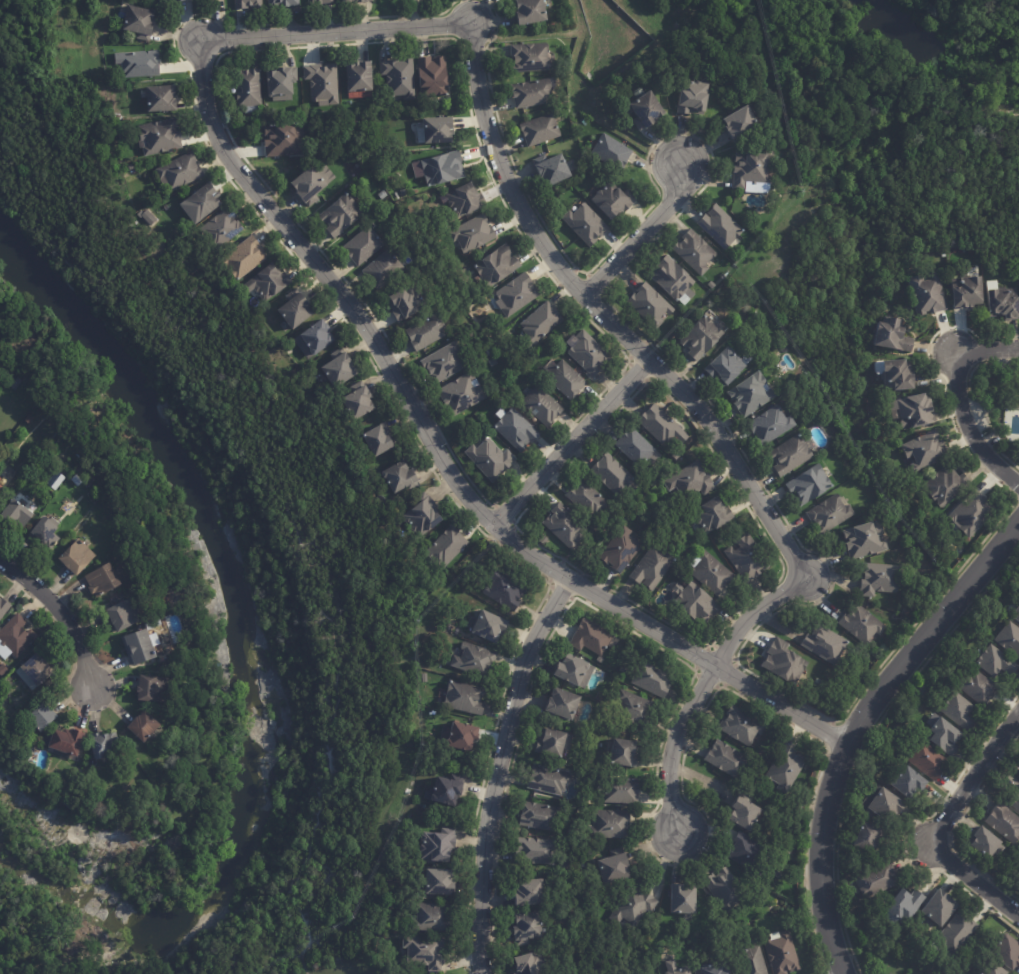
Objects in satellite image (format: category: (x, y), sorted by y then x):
building: (348, 0)
building: (362, 0)
building: (167, 1)
building: (320, 1)
building: (283, 3)
building: (247, 4)
building: (529, 10)
road: (576, 14)
road: (982, 15)
road: (644, 20)
building: (139, 21)
park: (977, 25)
road: (526, 32)
road: (333, 37)
building: (531, 57)
road: (637, 61)
building: (138, 63)
building: (399, 77)
building: (432, 77)
building: (359, 79)
building: (323, 82)
building: (281, 84)
building: (248, 87)
building: (532, 94)
building: (161, 98)
building: (693, 98)
road: (856, 107)
building: (645, 111)
road: (602, 117)
building: (740, 124)
building: (437, 130)
building: (540, 130)
building: (121, 136)
building: (159, 137)
building: (283, 140)
building: (610, 152)
building: (443, 169)
building: (754, 170)
building: (554, 171)
building: (179, 172)
building: (323, 176)
building: (309, 185)
building: (403, 193)
building: (383, 195)
building: (465, 200)
building: (203, 201)
building: (612, 201)
building: (341, 215)
building: (148, 217)
building: (586, 224)
building: (720, 227)
building: (221, 229)
building: (473, 234)
road: (640, 238)
building: (362, 246)
building: (694, 252)
building: (244, 258)
building: (735, 259)
building: (497, 266)
building: (382, 269)
building: (673, 279)
building: (268, 282)
building: (966, 292)
building: (517, 295)
building: (927, 295)
building: (404, 303)
building: (1003, 303)
building: (651, 305)
building: (296, 310)
building: (540, 323)
building: (428, 333)
building: (892, 335)
building: (701, 338)
building: (315, 339)
road: (986, 353)
building: (589, 354)
building: (0, 361)
building: (444, 364)
building: (726, 367)
building: (339, 368)
building: (508, 373)
building: (900, 376)
building: (566, 380)
building: (15, 384)
building: (461, 394)
building: (751, 394)
building: (358, 401)
building: (542, 405)
building: (915, 411)
building: (770, 425)
building: (661, 426)
building: (516, 430)
road: (968, 430)
road: (706, 435)
building: (379, 440)
building: (635, 447)
road: (566, 449)
building: (925, 449)
building: (677, 455)
building: (790, 455)
building: (490, 459)
road: (438, 466)
building: (612, 474)
building: (400, 478)
building: (690, 481)
building: (55, 482)
building: (946, 485)
building: (808, 486)
building: (2, 494)
building: (586, 499)
building: (971, 512)
building: (829, 513)
building: (712, 515)
building: (423, 516)
building: (15, 517)
building: (565, 527)
building: (45, 534)
building: (864, 540)
building: (445, 547)
building: (621, 551)
building: (76, 558)
building: (747, 558)
building: (651, 567)
building: (711, 574)
building: (880, 580)
building: (103, 581)
building: (505, 590)
building: (697, 603)
building: (3, 609)
building: (1015, 612)
building: (124, 616)
building: (419, 619)
road: (54, 622)
building: (152, 625)
building: (862, 625)
building: (487, 626)
building: (16, 637)
building: (591, 639)
building: (1008, 639)
building: (826, 645)
building: (138, 648)
building: (475, 661)
building: (992, 661)
building: (784, 662)
building: (623, 669)
building: (2, 671)
building: (573, 672)
building: (34, 673)
building: (653, 681)
building: (819, 685)
building: (975, 687)
building: (152, 690)
building: (918, 691)
building: (600, 698)
building: (464, 699)
building: (562, 705)
building: (634, 709)
building: (956, 710)
building: (41, 719)
road: (854, 722)
building: (742, 726)
building: (143, 728)
building: (942, 737)
building: (462, 738)
building: (66, 743)
building: (553, 743)
building: (102, 747)
building: (624, 755)
building: (726, 759)
building: (924, 759)
building: (785, 769)
building: (1017, 773)
road: (494, 775)
building: (548, 781)
building: (906, 783)
building: (445, 791)
building: (621, 792)
building: (1013, 800)
building: (879, 804)
building: (744, 813)
building: (539, 817)
building: (1003, 822)
building: (610, 825)
road: (937, 825)
building: (865, 836)
building: (979, 841)
building: (438, 847)
building: (745, 852)
building: (541, 853)
building: (615, 868)
building: (873, 880)
building: (439, 883)
building: (725, 891)
building: (527, 894)
building: (682, 900)
building: (898, 903)
building: (632, 906)
building: (935, 909)
building: (432, 918)
building: (527, 928)
building: (953, 932)
building: (1004, 952)
building: (425, 953)
building: (781, 953)
building: (751, 961)
building: (531, 965)
building: (713, 969)
building: (990, 969)
building: (680, 971)
building: (949, 972)

